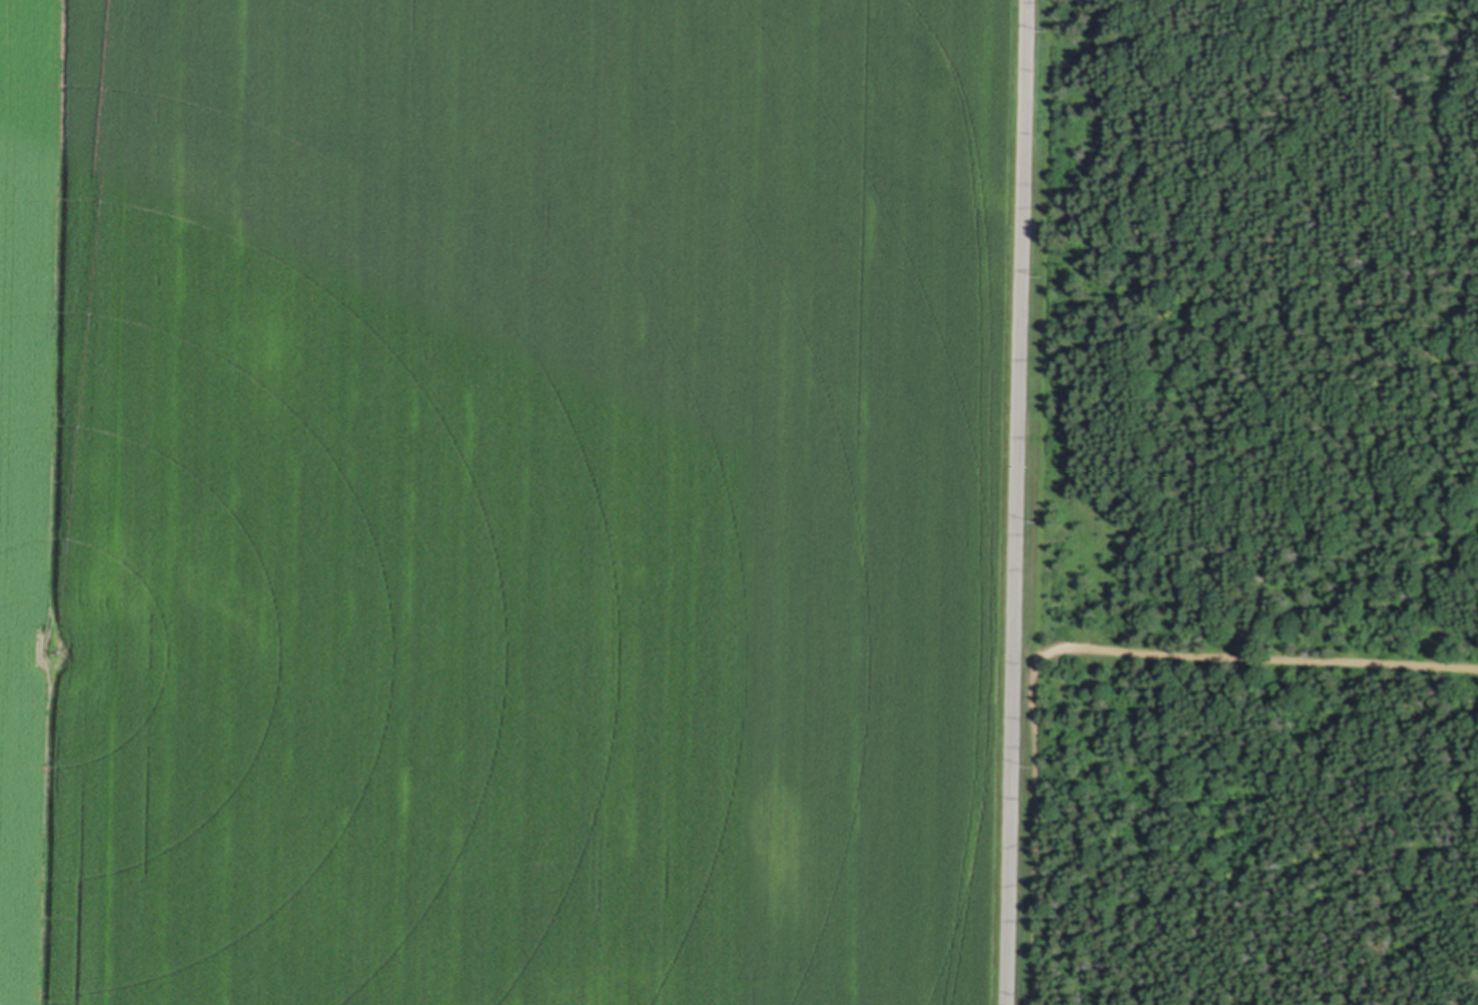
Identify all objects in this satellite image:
crop: (503, 500)
road: (1015, 502)
road: (1082, 648)

